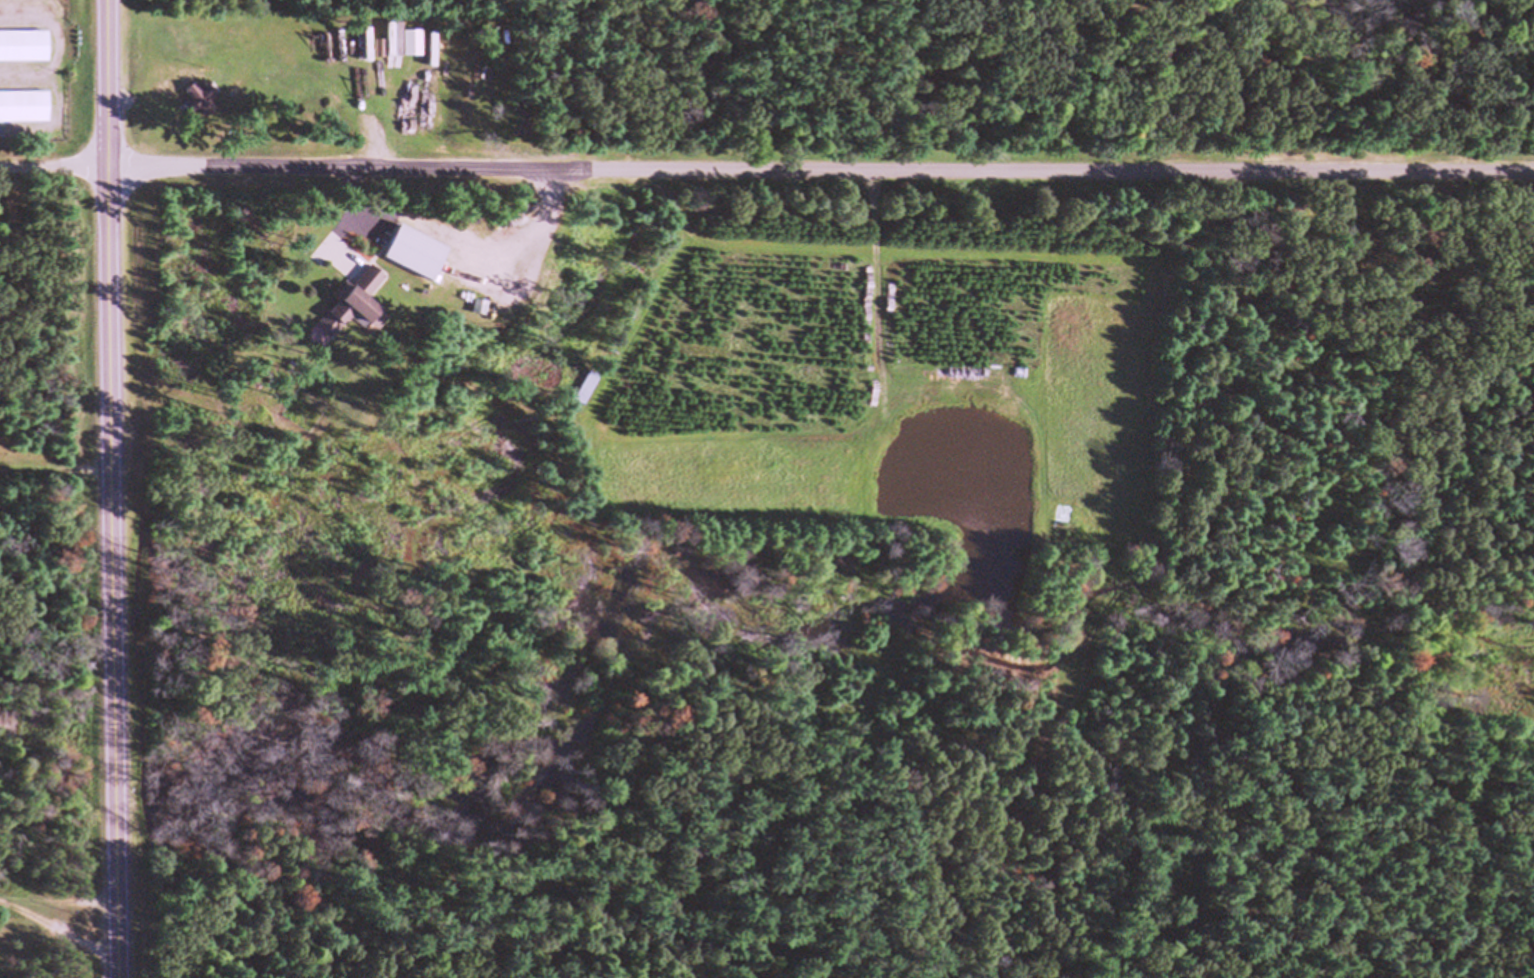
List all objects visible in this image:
building: (362, 45)
building: (21, 47)
building: (375, 50)
building: (195, 100)
building: (22, 107)
road: (767, 169)
building: (407, 253)
building: (351, 298)
building: (582, 387)
road: (112, 489)
road: (58, 917)

